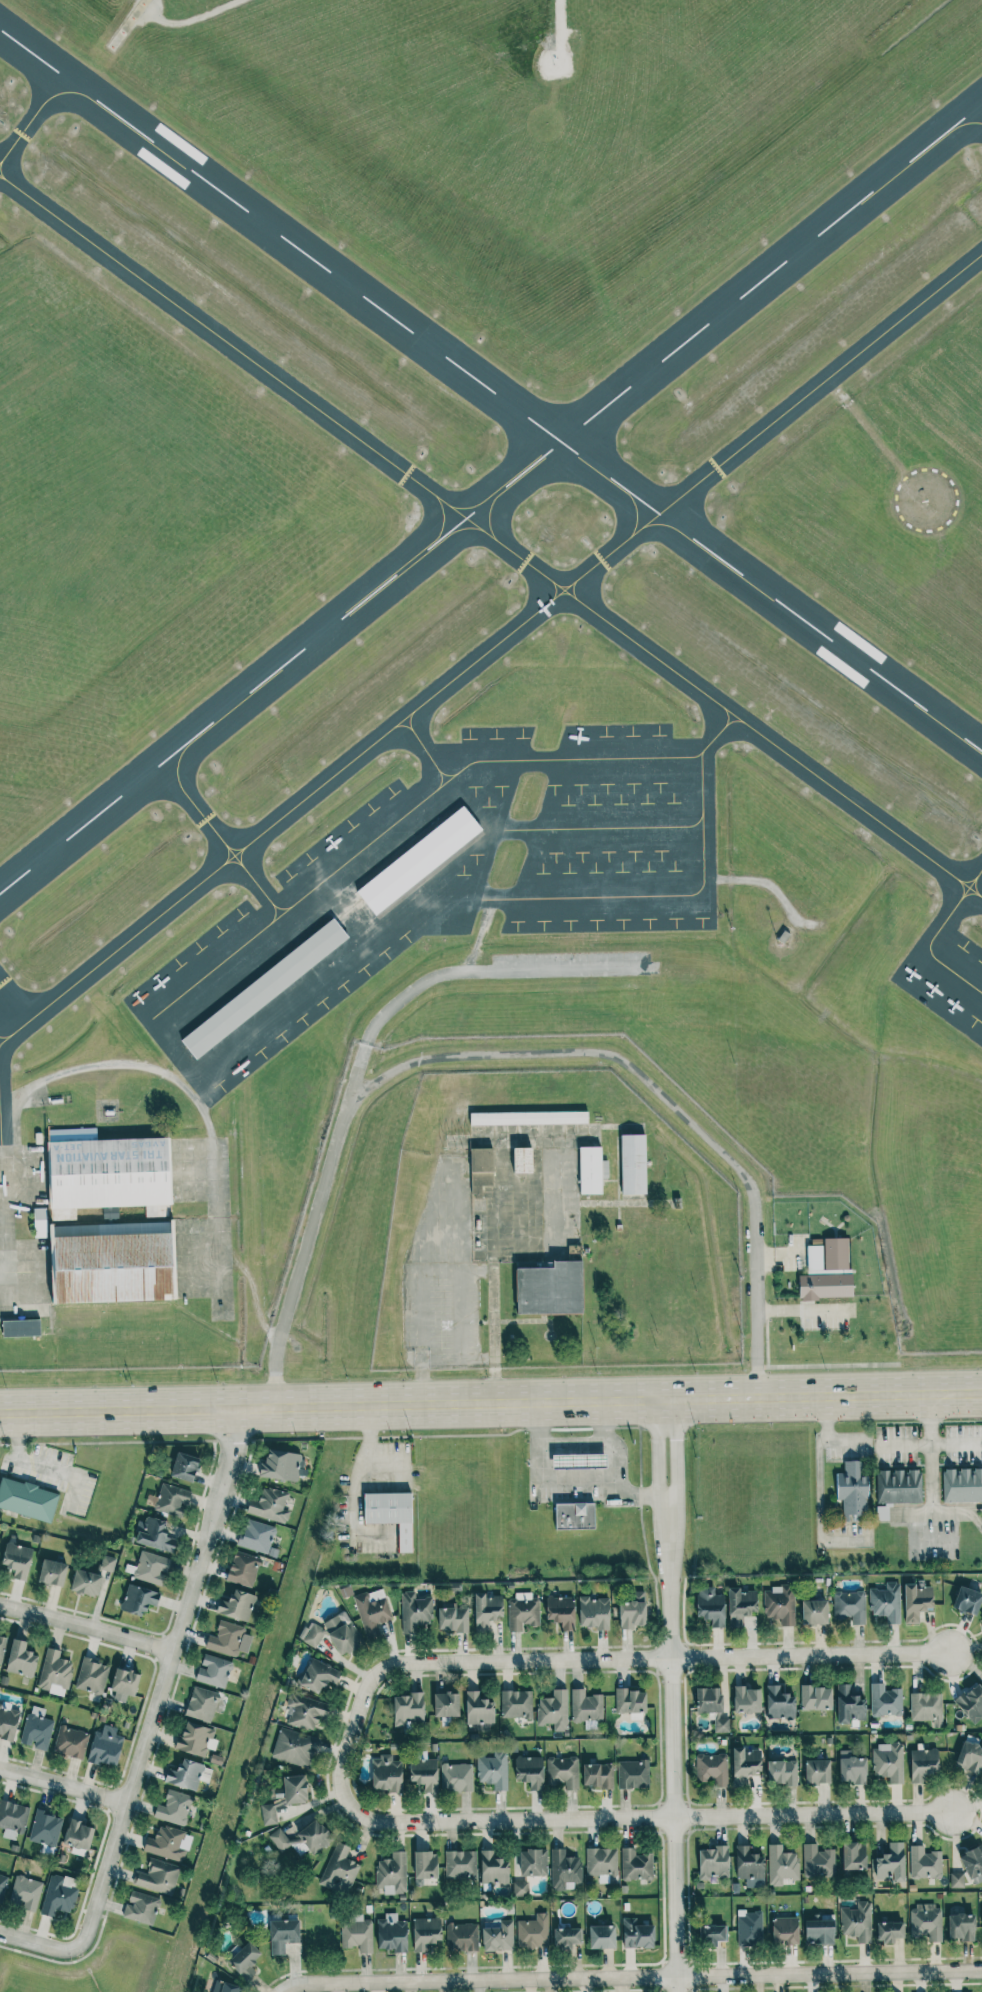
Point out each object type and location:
airport taxiway: (36, 63)
airport taxiway: (92, 100)
airport taxiway: (910, 161)
airport runway: (491, 363)
airport runway: (490, 391)
airport runway: (491, 418)
airport runway: (491, 470)
airport runway: (490, 497)
airport runway: (491, 526)
airport taxiway: (490, 537)
airport taxiway: (561, 579)
airport taxiway: (538, 591)
airport taxiway: (588, 593)
airport taxiway: (563, 600)
airport taxiway: (492, 647)
airport: (489, 684)
airport taxiway: (713, 716)
airport taxiway: (942, 724)
airport taxiway: (731, 729)
airport taxiway: (413, 735)
airport taxiway: (210, 826)
airport taxiway: (959, 871)
airport apron: (445, 884)
airport taxiway: (951, 891)
airport taxiway: (964, 906)
road: (463, 971)
airport apron: (945, 978)
building: (264, 990)
airport taxiway: (4, 1035)
road: (519, 1058)
road: (38, 1082)
building: (529, 1119)
road: (496, 1156)
building: (526, 1163)
building: (635, 1167)
building: (481, 1168)
building: (107, 1173)
building: (595, 1173)
airport taxiway: (4, 1205)
airport apron: (203, 1222)
airport apron: (6, 1223)
building: (981, 1236)
building: (828, 1256)
road: (221, 1260)
building: (112, 1264)
parking lot: (444, 1276)
road: (3, 1286)
building: (825, 1286)
building: (548, 1287)
building: (20, 1328)
road: (423, 1387)
road: (491, 1403)
road: (826, 1435)
road: (605, 1440)
road: (119, 1442)
road: (573, 1445)
road: (931, 1448)
building: (578, 1461)
gas station: (579, 1461)
building: (280, 1465)
building: (184, 1467)
road: (568, 1479)
building: (962, 1485)
building: (898, 1486)
building: (852, 1490)
building: (27, 1499)
building: (170, 1499)
building: (270, 1505)
road: (820, 1510)
building: (882, 1512)
building: (391, 1514)
building: (574, 1516)
building: (156, 1535)
building: (256, 1536)
building: (17, 1560)
building: (107, 1563)
building: (151, 1568)
building: (243, 1569)
building: (52, 1572)
building: (86, 1583)
building: (138, 1600)
building: (967, 1600)
building: (886, 1602)
building: (916, 1602)
building: (779, 1604)
building: (236, 1605)
building: (710, 1606)
building: (740, 1606)
building: (849, 1606)
building: (415, 1610)
building: (487, 1610)
building: (372, 1611)
building: (561, 1611)
building: (633, 1611)
building: (522, 1612)
building: (814, 1612)
building: (594, 1613)
building: (452, 1617)
road: (87, 1628)
building: (333, 1635)
building: (229, 1639)
building: (1, 1646)
road: (633, 1658)
building: (21, 1659)
building: (214, 1671)
building: (54, 1673)
building: (91, 1676)
building: (318, 1676)
road: (165, 1679)
building: (125, 1682)
road: (671, 1695)
building: (815, 1698)
building: (746, 1700)
building: (629, 1701)
building: (885, 1701)
building: (971, 1702)
building: (201, 1704)
building: (446, 1704)
building: (516, 1704)
building: (779, 1704)
building: (712, 1705)
building: (848, 1705)
building: (479, 1708)
building: (926, 1708)
building: (408, 1709)
building: (554, 1710)
building: (304, 1711)
building: (8, 1721)
building: (36, 1728)
building: (70, 1742)
building: (294, 1748)
building: (105, 1749)
building: (969, 1757)
building: (888, 1762)
building: (923, 1764)
building: (744, 1765)
building: (851, 1768)
building: (712, 1769)
building: (493, 1770)
building: (529, 1771)
building: (563, 1771)
building: (817, 1771)
building: (781, 1772)
building: (386, 1773)
building: (424, 1773)
building: (632, 1774)
building: (188, 1775)
building: (597, 1776)
building: (456, 1777)
road: (64, 1786)
building: (294, 1789)
building: (174, 1808)
building: (268, 1814)
road: (606, 1816)
building: (12, 1818)
building: (45, 1828)
building: (78, 1835)
building: (302, 1839)
building: (168, 1843)
building: (853, 1856)
building: (601, 1861)
building: (818, 1861)
building: (533, 1862)
building: (712, 1862)
building: (890, 1862)
building: (924, 1863)
building: (972, 1863)
building: (460, 1864)
building: (636, 1865)
building: (781, 1865)
building: (749, 1867)
building: (425, 1868)
building: (564, 1869)
building: (341, 1871)
building: (392, 1873)
building: (495, 1873)
building: (158, 1877)
building: (956, 1880)
building: (2, 1885)
building: (520, 1888)
building: (26, 1892)
building: (58, 1895)
building: (141, 1908)
building: (981, 1911)
building: (856, 1922)
building: (926, 1922)
building: (961, 1926)
building: (749, 1928)
building: (819, 1929)
building: (784, 1930)
building: (889, 1931)
building: (425, 1932)
building: (533, 1932)
building: (356, 1933)
building: (392, 1933)
building: (282, 1934)
building: (637, 1934)
building: (711, 1934)
building: (498, 1936)
building: (461, 1937)
building: (567, 1937)
building: (601, 1937)
road: (37, 1943)
building: (245, 1960)
road: (630, 1975)
building: (224, 1987)

